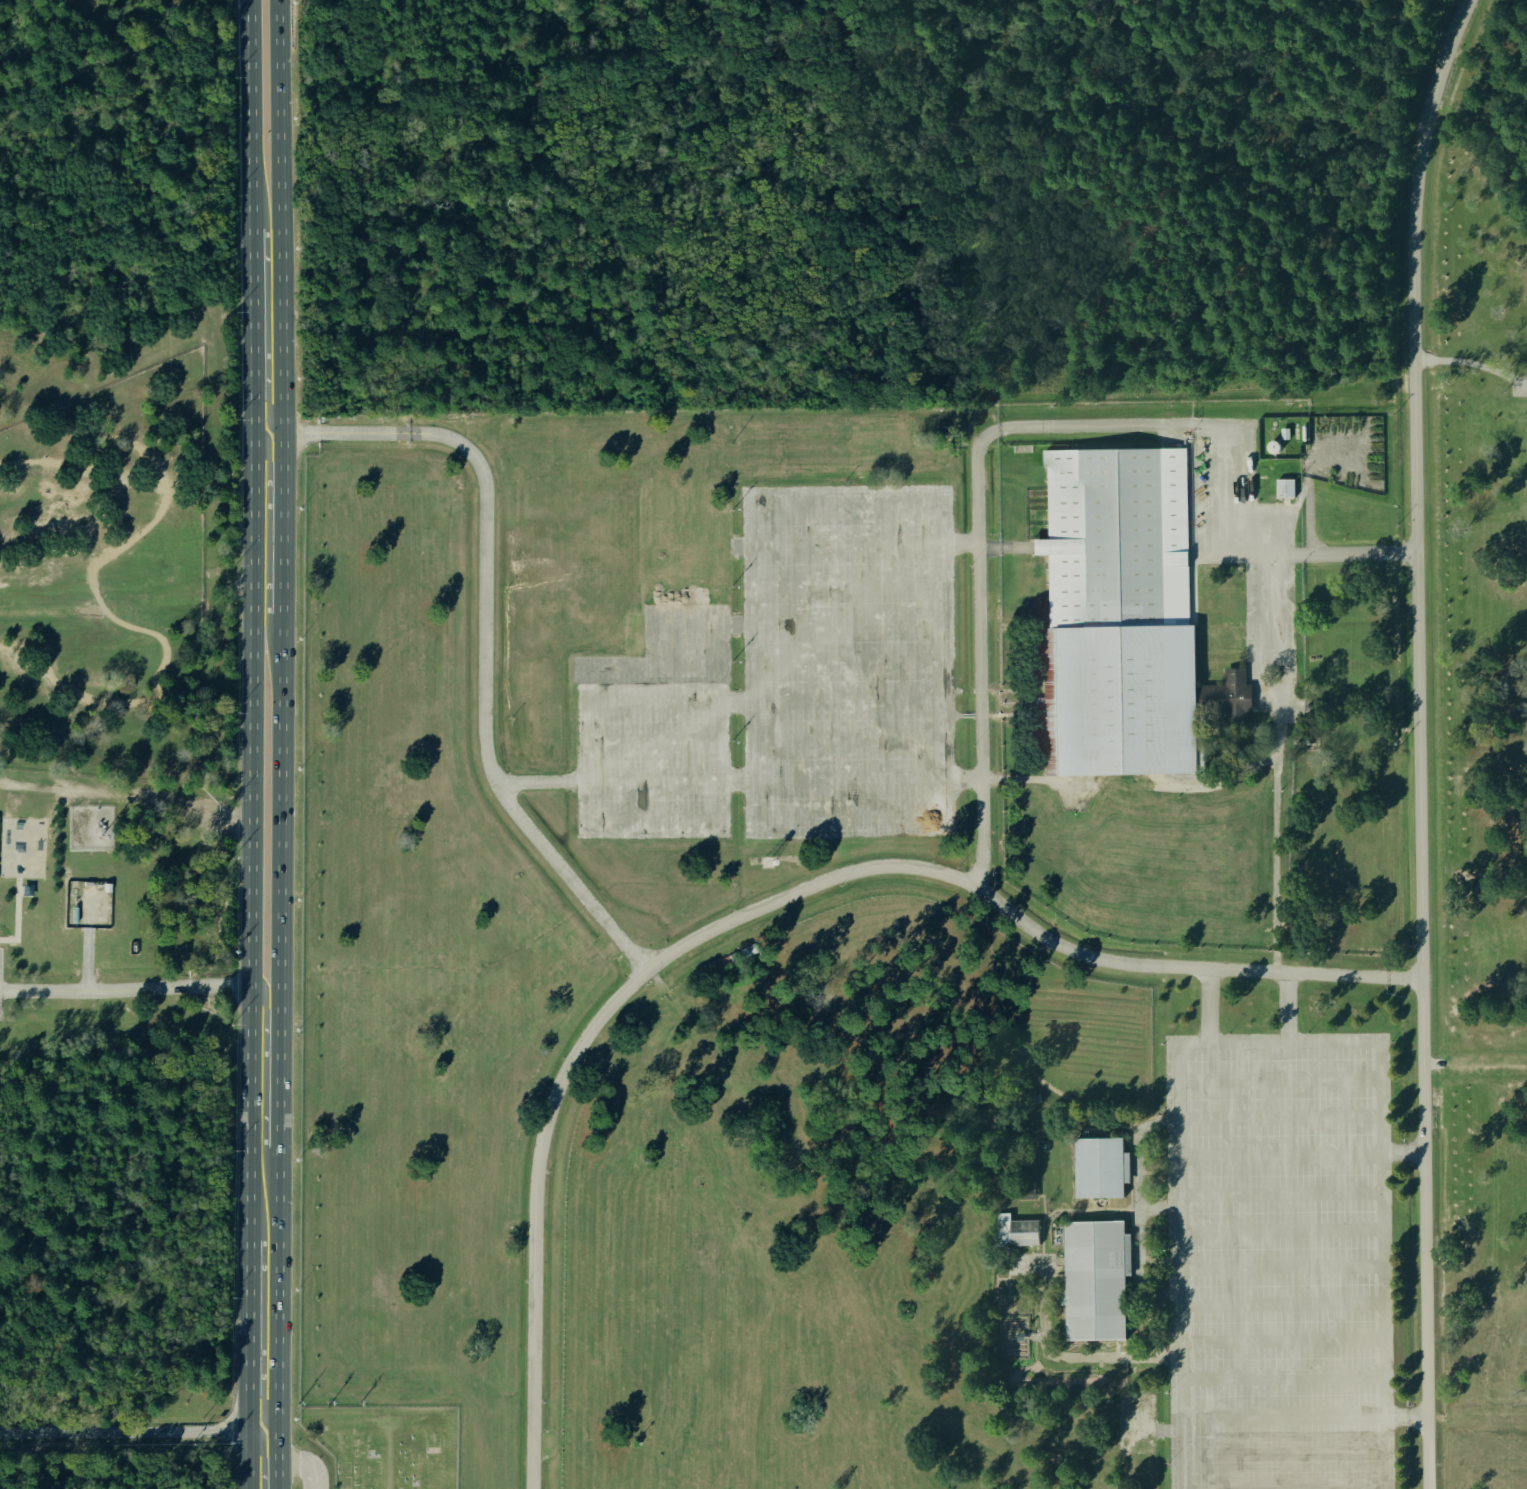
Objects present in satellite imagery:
road: (1474, 363)
road: (1168, 425)
building: (1313, 427)
building: (1350, 427)
building: (1286, 433)
building: (878, 436)
road: (921, 447)
building: (1368, 452)
building: (941, 456)
building: (1305, 456)
road: (1307, 476)
road: (879, 478)
building: (1285, 487)
road: (1286, 504)
road: (1212, 509)
road: (1182, 510)
building: (1115, 536)
road: (1035, 540)
parking lot: (1246, 541)
road: (1007, 542)
road: (684, 544)
road: (733, 544)
road: (844, 544)
road: (749, 547)
road: (1349, 553)
road: (91, 582)
road: (845, 583)
road: (685, 584)
road: (1224, 591)
road: (1278, 593)
road: (251, 612)
road: (845, 622)
road: (685, 623)
road: (734, 623)
road: (487, 624)
building: (1219, 635)
parking lot: (848, 659)
road: (677, 662)
road: (846, 662)
parking lot: (662, 687)
road: (981, 689)
road: (958, 690)
road: (1016, 693)
building: (1119, 698)
building: (1228, 698)
road: (652, 701)
road: (846, 701)
road: (736, 702)
road: (1008, 714)
road: (958, 715)
road: (981, 715)
road: (721, 723)
road: (1215, 736)
park: (914, 738)
road: (652, 739)
road: (847, 739)
road: (1423, 740)
road: (278, 744)
building: (1235, 744)
road: (539, 778)
road: (653, 778)
road: (847, 778)
road: (737, 779)
road: (1127, 782)
road: (1111, 792)
road: (128, 793)
road: (774, 857)
water tower: (768, 860)
park: (114, 879)
street lamp: (840, 884)
road: (472, 885)
building: (106, 886)
building: (27, 889)
road: (768, 905)
street lamp: (734, 909)
road: (14, 916)
road: (537, 930)
road: (85, 962)
road: (661, 983)
street lamp: (646, 984)
road: (742, 984)
road: (723, 987)
road: (125, 991)
road: (1209, 1007)
road: (1288, 1008)
street lamp: (1228, 1031)
street lamp: (1308, 1031)
road: (1145, 1039)
street lamp: (1393, 1042)
street lamp: (1162, 1044)
road: (1280, 1045)
street lamp: (562, 1058)
road: (1476, 1061)
road: (1280, 1079)
road: (1084, 1106)
street lamp: (1162, 1109)
road: (1281, 1116)
crop: (644, 1122)
road: (1404, 1151)
road: (1281, 1153)
building: (1100, 1166)
road: (1154, 1170)
street lamp: (548, 1171)
road: (1131, 1175)
street lamp: (1394, 1175)
road: (1282, 1192)
building: (1029, 1193)
road: (1042, 1203)
building: (1003, 1204)
road: (746, 1208)
road: (1093, 1208)
road: (1113, 1208)
road: (1159, 1208)
road: (1138, 1211)
road: (1049, 1213)
road: (1283, 1229)
building: (1024, 1231)
road: (723, 1244)
street lamp: (1395, 1248)
street lamp: (1165, 1251)
road: (1031, 1255)
road: (1156, 1256)
parking lot: (1279, 1261)
road: (1033, 1265)
road: (1283, 1266)
road: (899, 1271)
building: (1096, 1278)
street lamp: (527, 1279)
road: (250, 1292)
road: (1284, 1303)
street lamp: (1396, 1319)
road: (1001, 1335)
building: (1020, 1335)
road: (1025, 1335)
road: (1035, 1336)
road: (1284, 1337)
road: (1068, 1361)
road: (1285, 1375)
road: (260, 1390)
street lamp: (1396, 1390)
street lamp: (1166, 1391)
street lamp: (543, 1400)
road: (1286, 1415)
road: (1408, 1415)
road: (1478, 1416)
road: (248, 1423)
road: (1166, 1428)
road: (126, 1429)
road: (2, 1431)
park: (388, 1444)
road: (1286, 1453)
road: (261, 1457)
road: (302, 1461)
road: (389, 1462)
street lamp: (1166, 1462)
street lamp: (1397, 1462)
parking lot: (312, 1471)
road: (1363, 1488)

